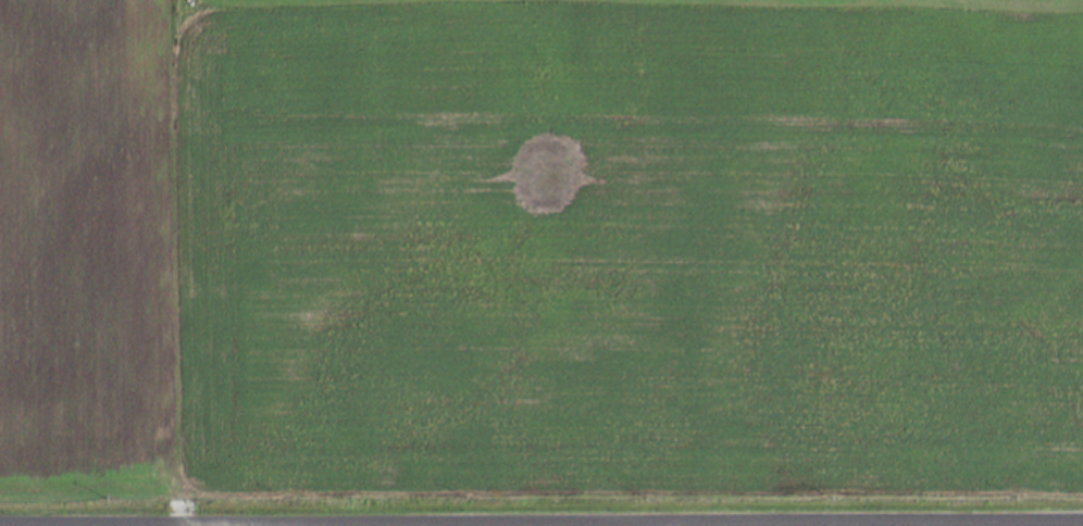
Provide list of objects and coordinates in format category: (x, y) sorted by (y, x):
road: (541, 524)

